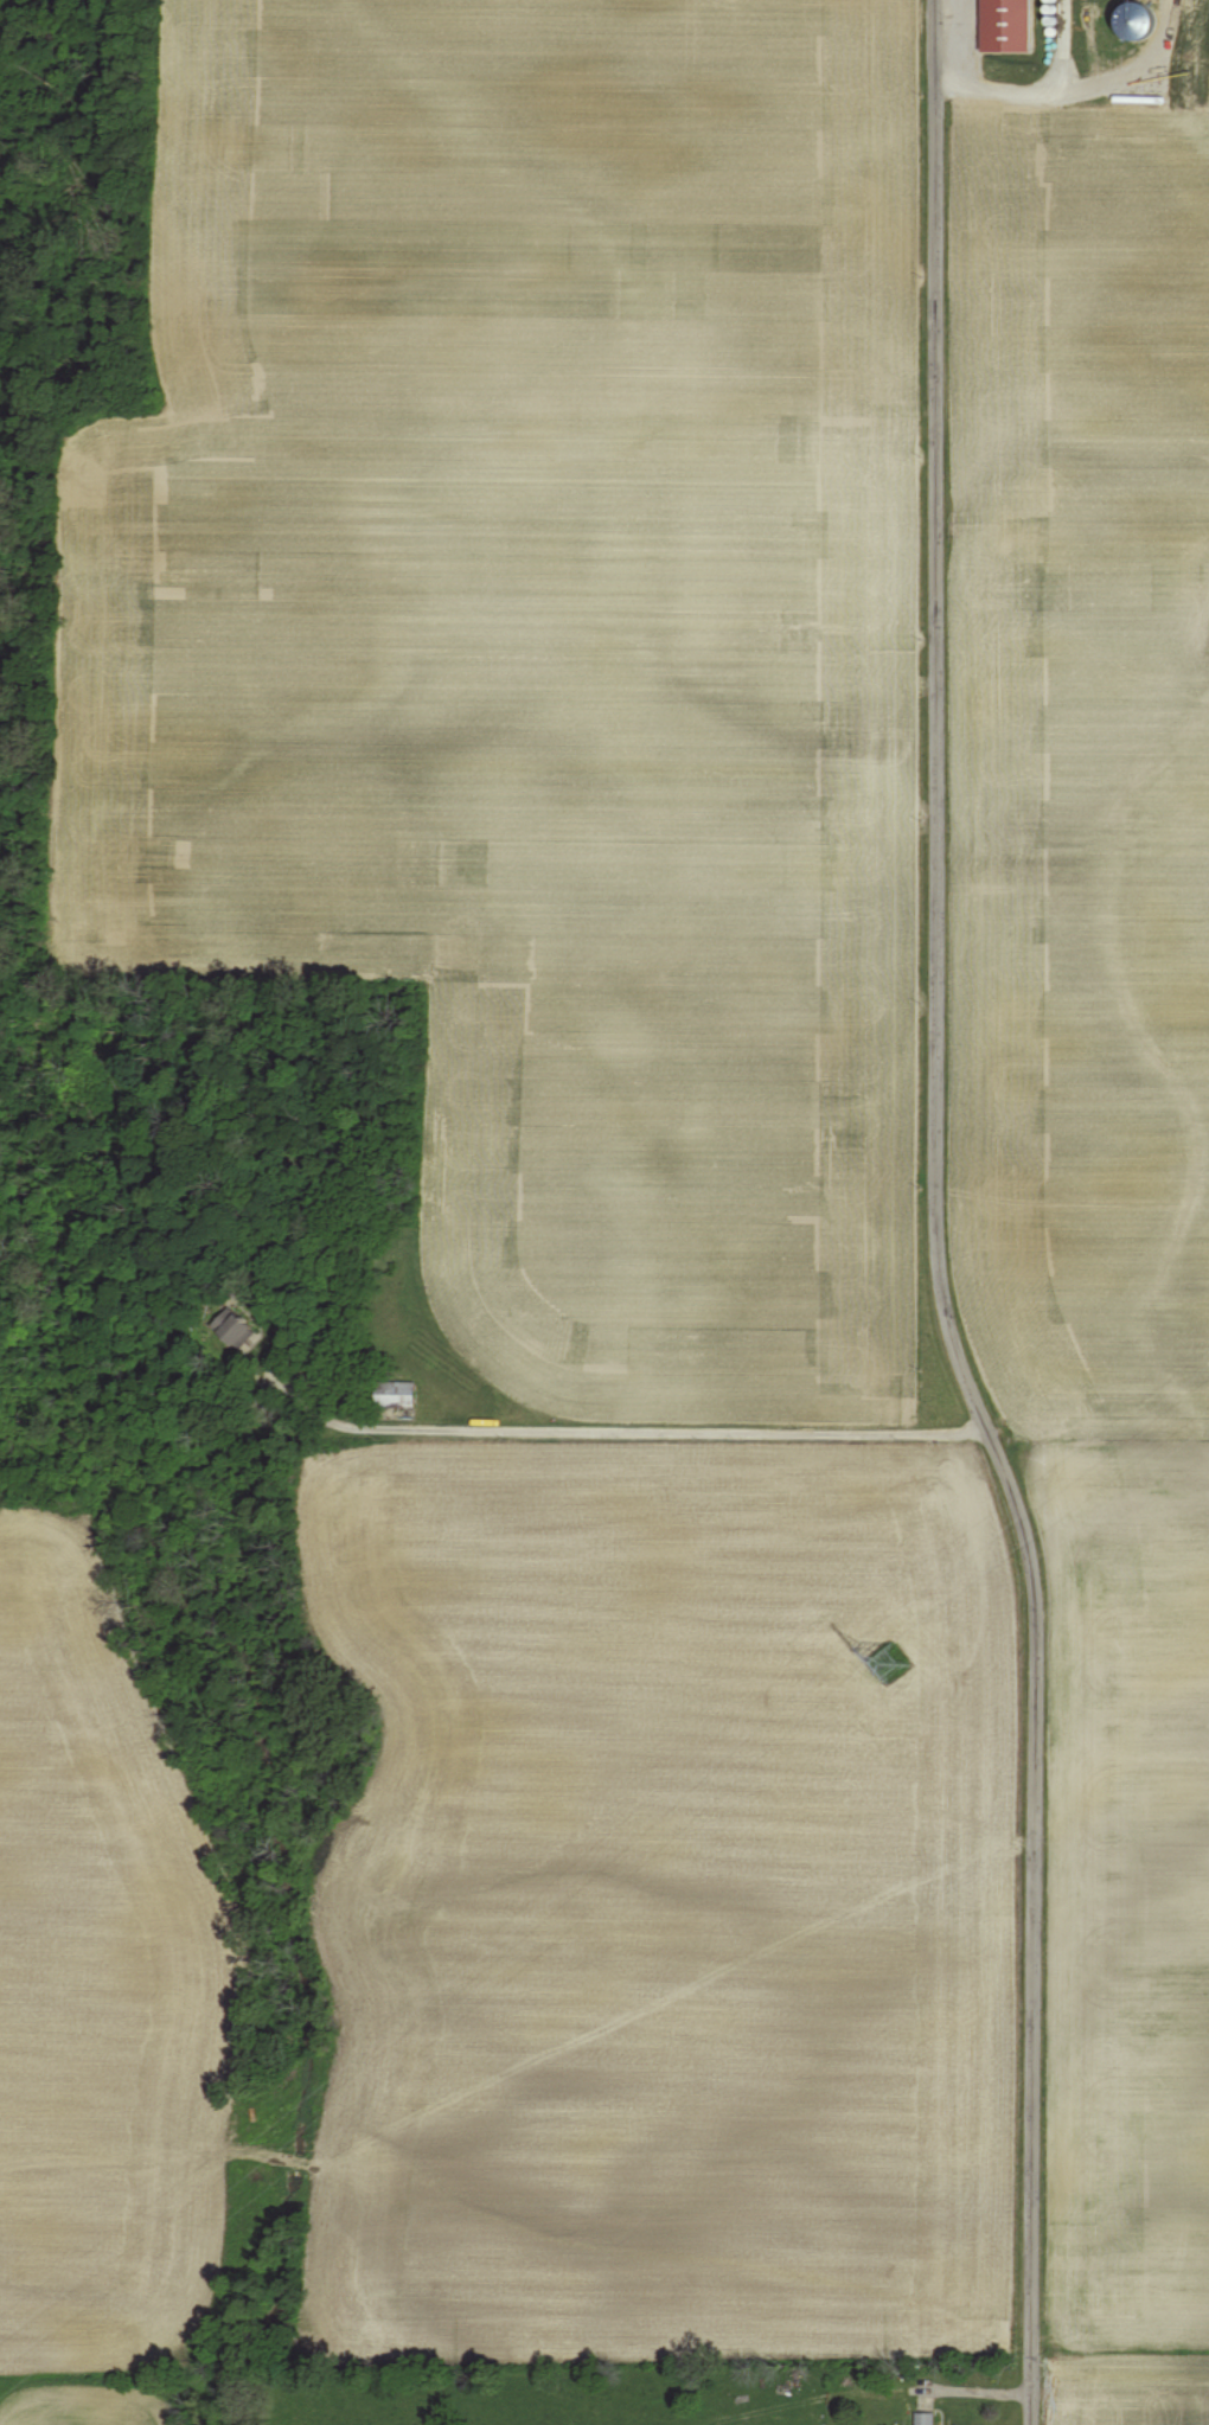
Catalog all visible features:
building: (1004, 24)
road: (1058, 47)
road: (1075, 89)
road: (934, 1220)
building: (230, 1332)
building: (391, 1395)
road: (627, 1429)
power tower: (882, 1662)
building: (922, 2418)

